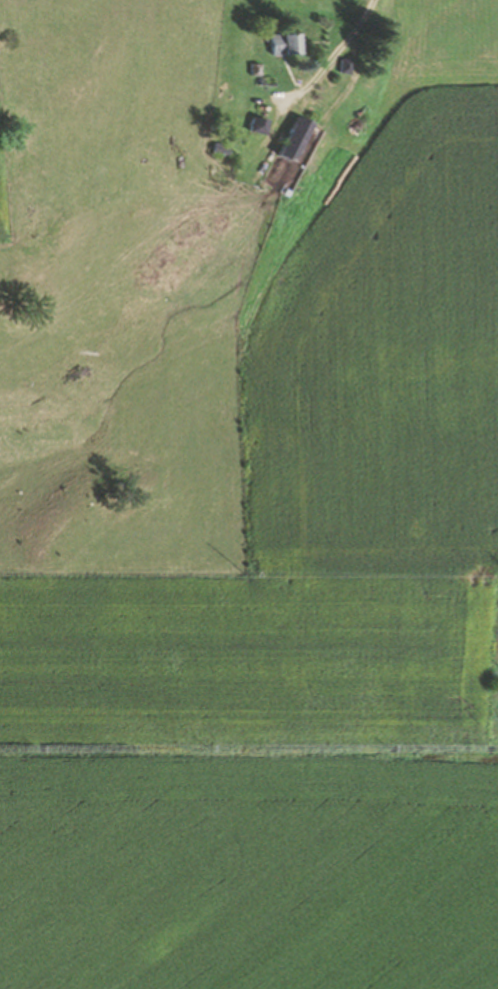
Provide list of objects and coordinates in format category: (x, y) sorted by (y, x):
building: (281, 44)
road: (324, 62)
building: (251, 70)
building: (262, 82)
building: (251, 127)
building: (286, 141)
building: (217, 150)

